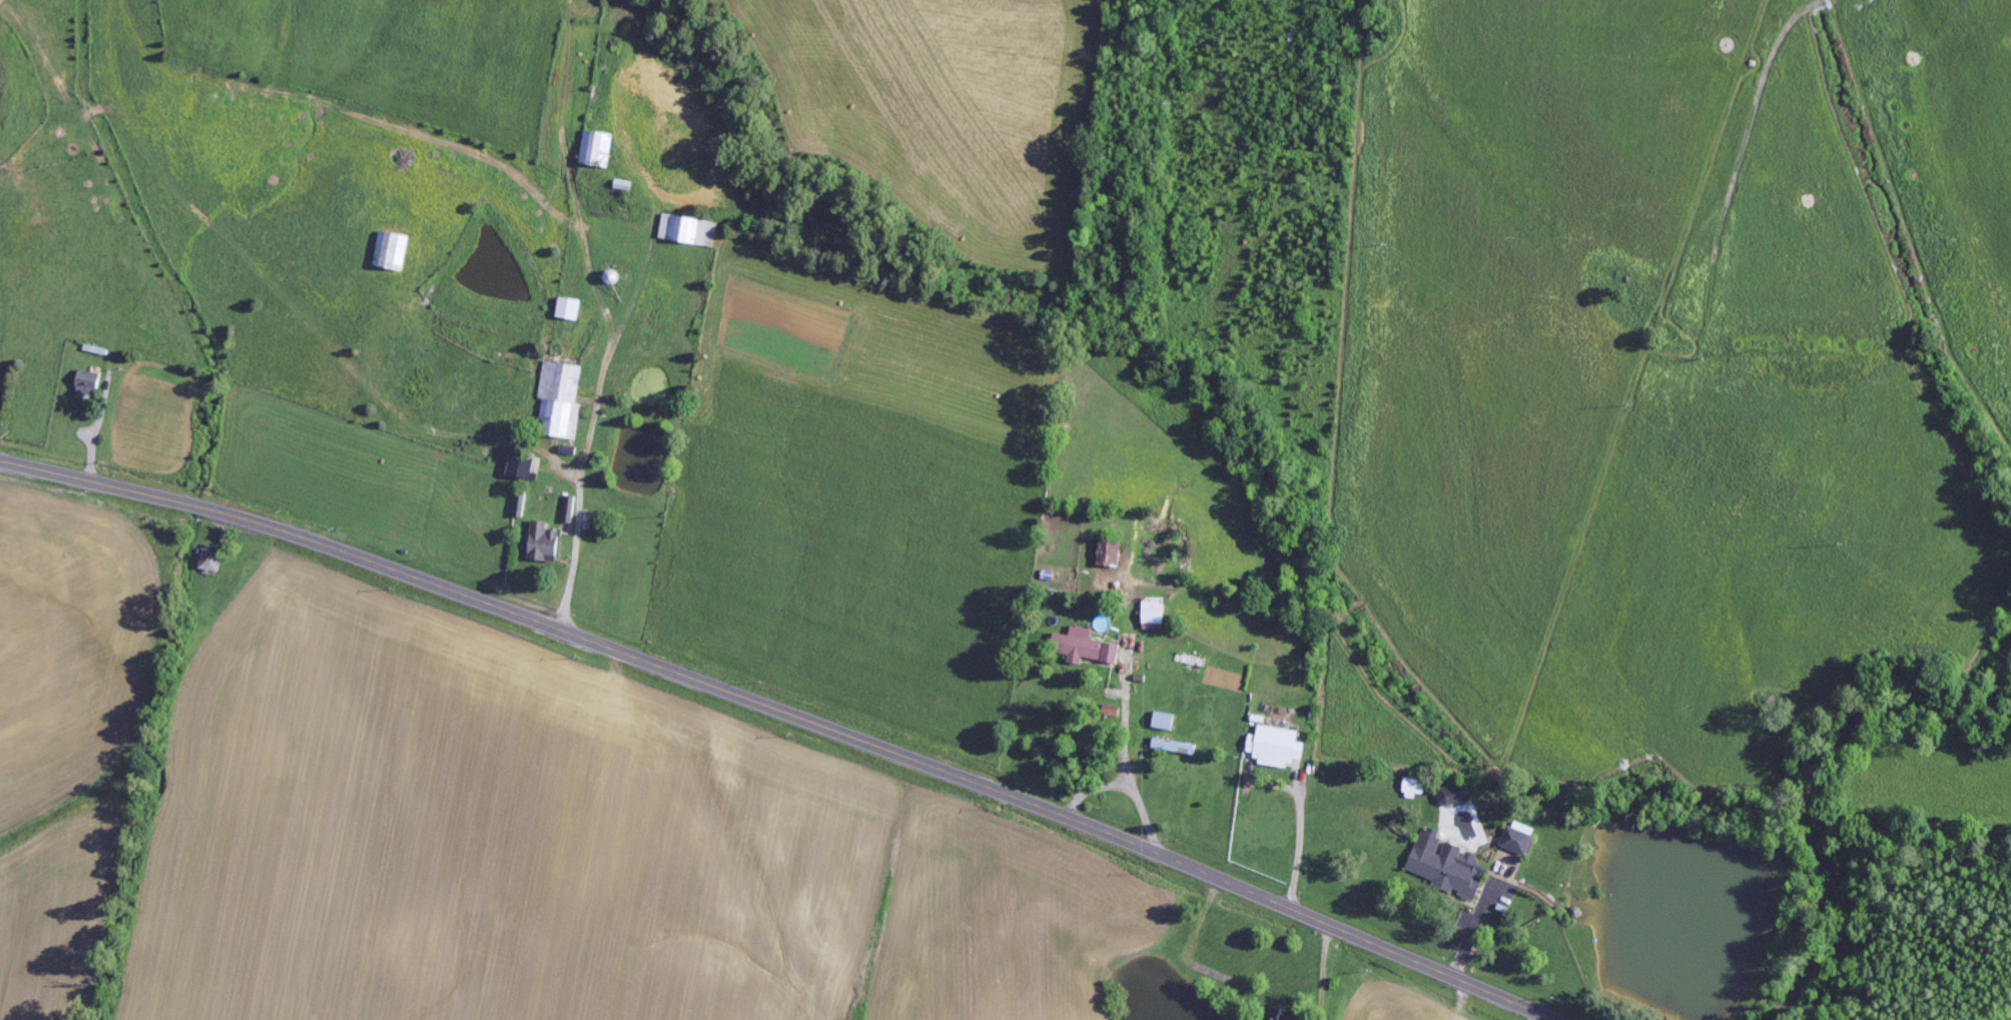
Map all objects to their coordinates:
building: (597, 150)
building: (690, 231)
building: (392, 252)
building: (569, 310)
building: (89, 383)
building: (561, 401)
building: (523, 470)
building: (571, 510)
building: (600, 528)
building: (545, 544)
building: (1110, 554)
building: (213, 558)
building: (1155, 610)
building: (1087, 647)
road: (785, 713)
building: (1165, 721)
building: (1175, 745)
building: (1277, 746)
building: (1455, 794)
road: (1199, 809)
building: (1519, 840)
building: (1448, 865)
building: (1288, 1015)

